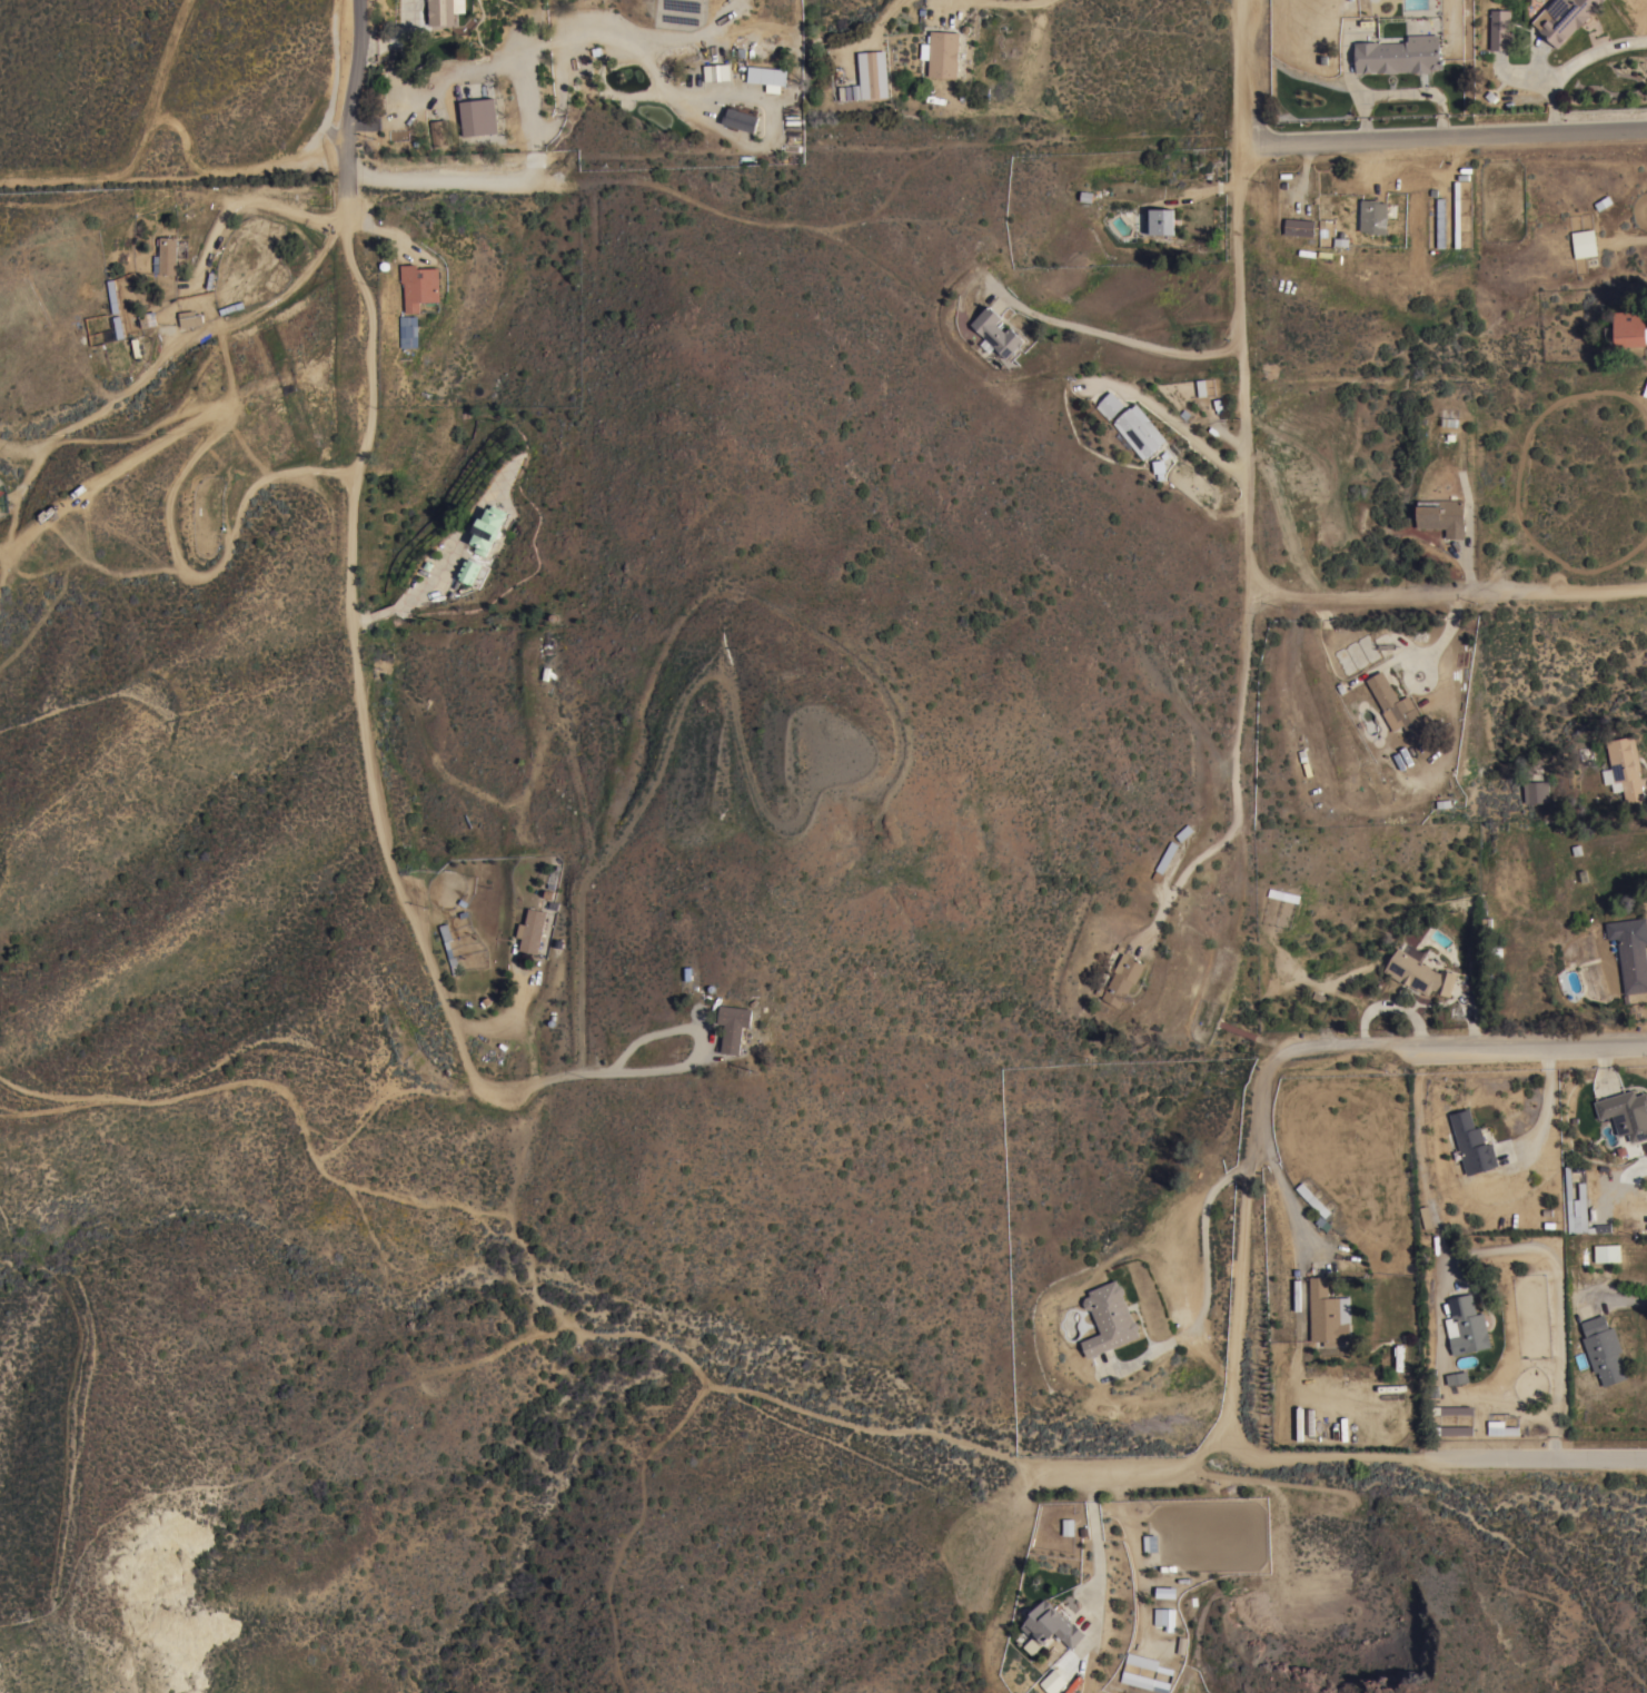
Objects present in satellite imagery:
road: (1006, 2)
building: (445, 8)
road: (884, 16)
building: (1562, 18)
building: (1499, 29)
road: (638, 47)
building: (941, 53)
building: (1399, 55)
road: (1575, 63)
road: (528, 71)
building: (716, 72)
building: (872, 73)
building: (766, 75)
building: (478, 116)
building: (736, 120)
building: (438, 131)
road: (1445, 135)
road: (532, 152)
road: (444, 181)
road: (227, 215)
building: (1372, 216)
building: (1159, 220)
building: (1438, 224)
building: (1299, 226)
building: (1582, 242)
building: (167, 255)
building: (418, 285)
building: (191, 317)
building: (148, 318)
building: (1629, 328)
building: (405, 331)
building: (996, 331)
road: (1124, 335)
road: (219, 338)
building: (1201, 386)
building: (1109, 404)
road: (1244, 413)
building: (1139, 429)
road: (1201, 440)
road: (181, 467)
building: (1441, 515)
building: (487, 528)
building: (473, 572)
road: (1450, 594)
road: (415, 601)
building: (1356, 654)
building: (1399, 706)
road: (364, 727)
building: (1625, 765)
building: (1536, 791)
building: (1183, 831)
building: (1163, 861)
road: (1185, 885)
building: (532, 929)
building: (448, 948)
building: (1630, 951)
building: (1419, 973)
building: (1122, 978)
building: (733, 1026)
road: (1294, 1041)
road: (1606, 1053)
road: (1549, 1095)
building: (1626, 1112)
road: (1417, 1117)
building: (1471, 1142)
road: (1281, 1169)
building: (1581, 1194)
building: (1312, 1199)
building: (1568, 1199)
building: (1428, 1217)
building: (1607, 1251)
road: (1545, 1253)
road: (1208, 1277)
road: (1621, 1301)
building: (1328, 1313)
building: (1109, 1318)
building: (1466, 1325)
building: (1603, 1348)
building: (1398, 1355)
building: (1457, 1377)
building: (1451, 1409)
building: (1500, 1427)
building: (1452, 1429)
road: (1296, 1458)
road: (1537, 1458)
road: (1101, 1485)
building: (1064, 1526)
building: (1164, 1617)
building: (1051, 1624)
building: (1141, 1660)
building: (1050, 1681)
building: (1142, 1681)

